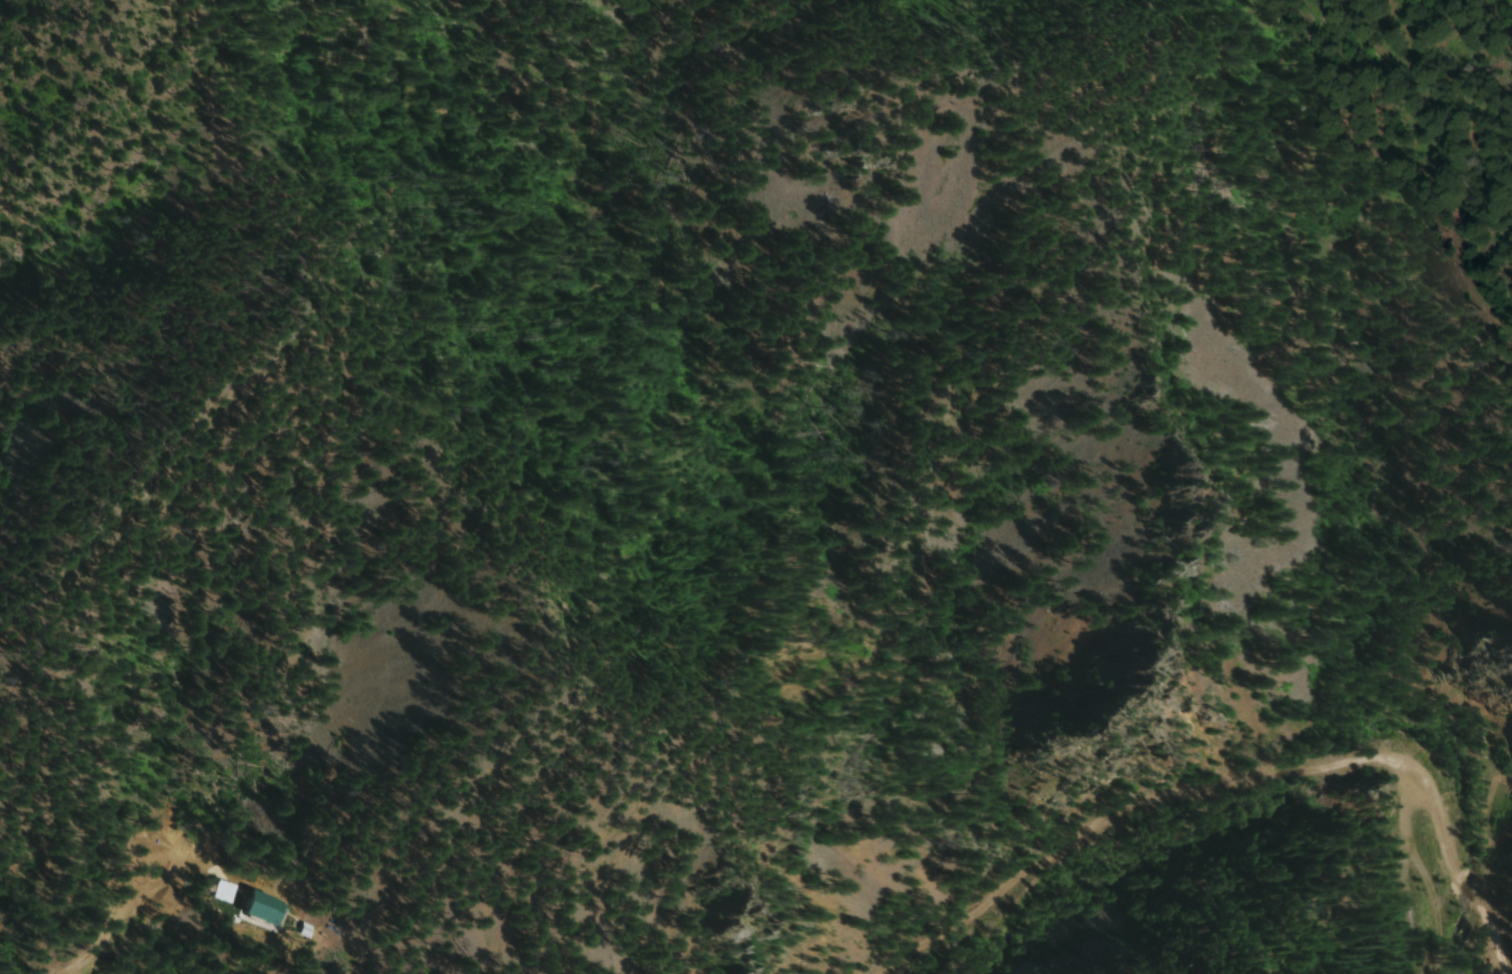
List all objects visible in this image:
road: (1250, 781)

